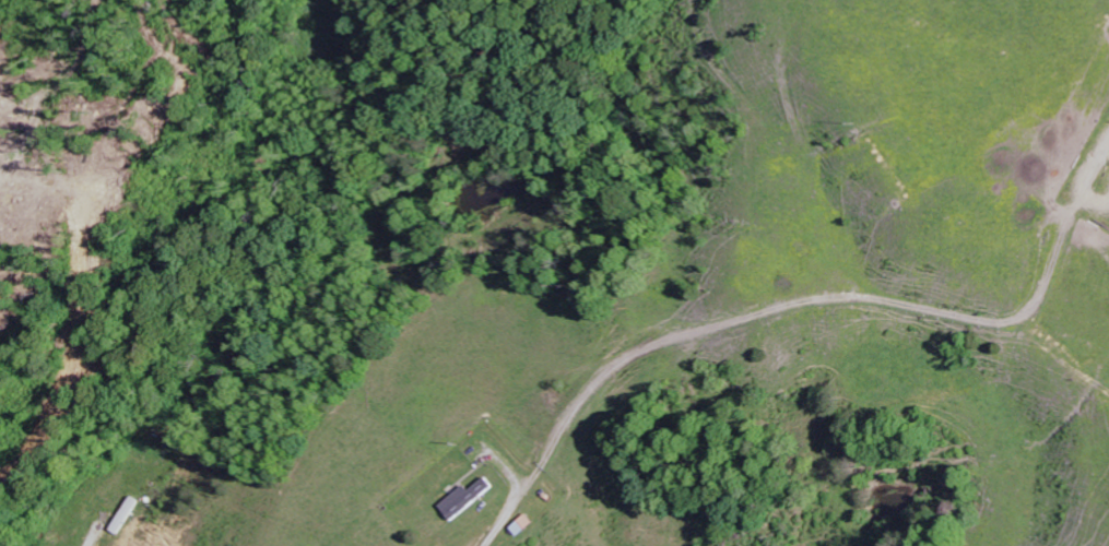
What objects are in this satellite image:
building: (462, 498)

